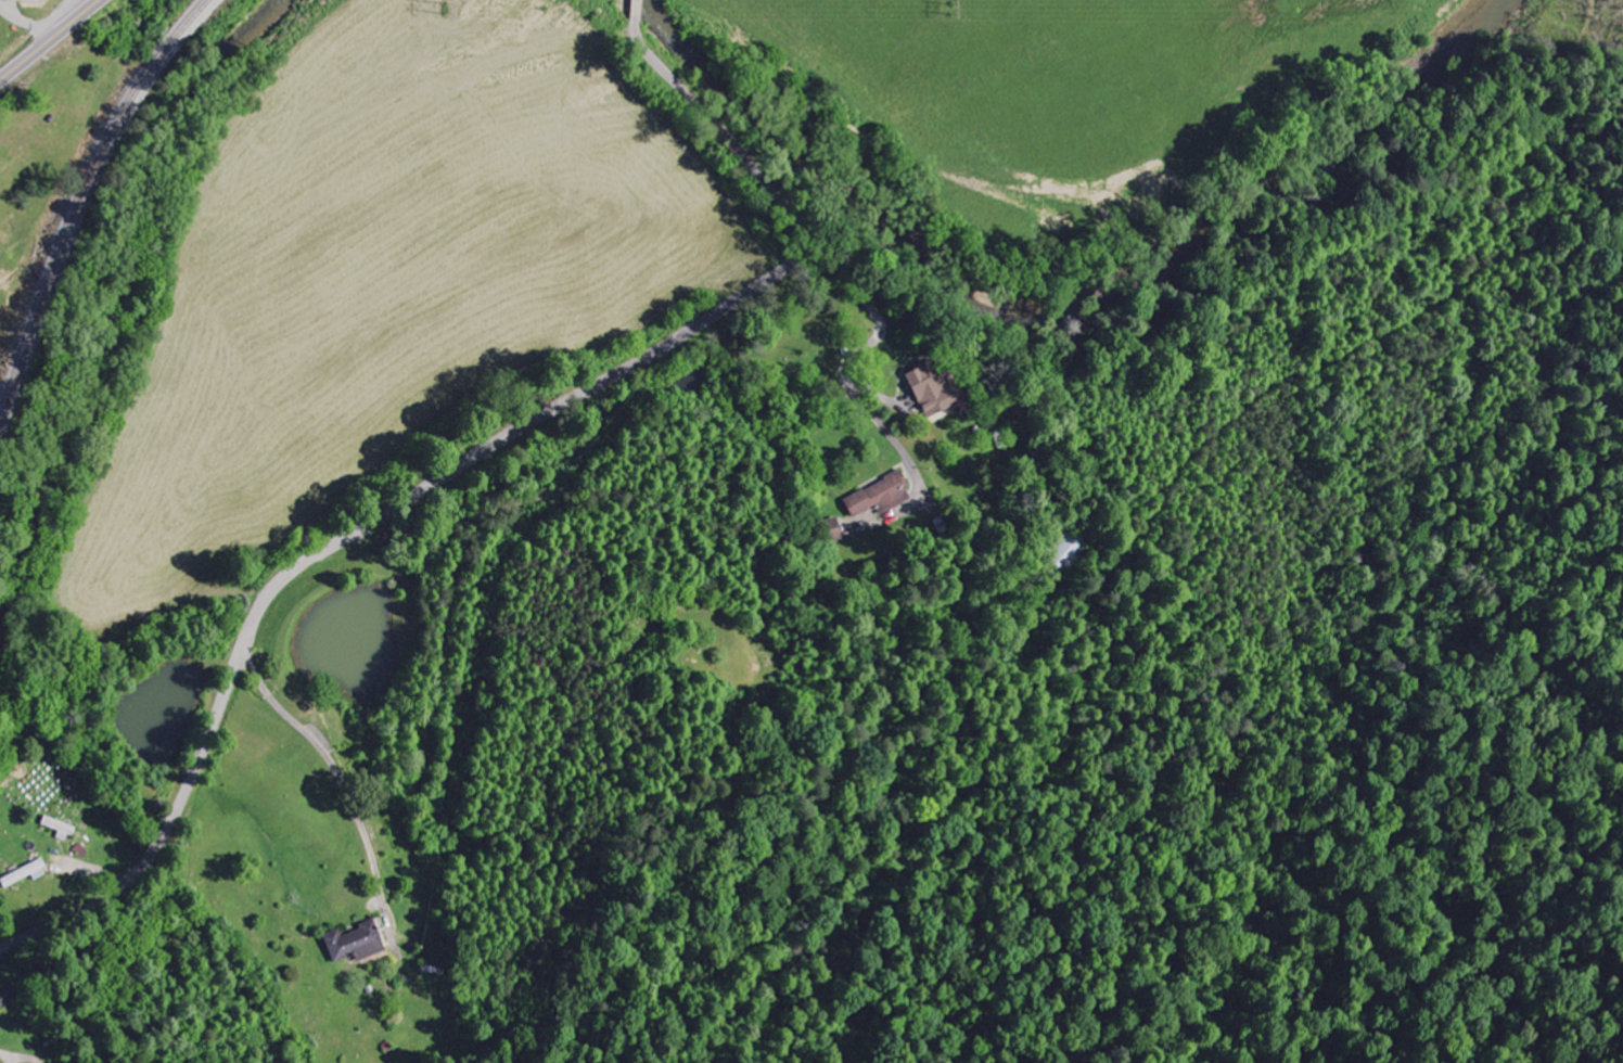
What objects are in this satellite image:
road: (26, 21)
road: (50, 39)
railway: (80, 204)
building: (933, 388)
road: (468, 456)
building: (878, 496)
building: (1065, 551)
building: (59, 828)
building: (24, 873)
building: (354, 943)
building: (5, 997)

